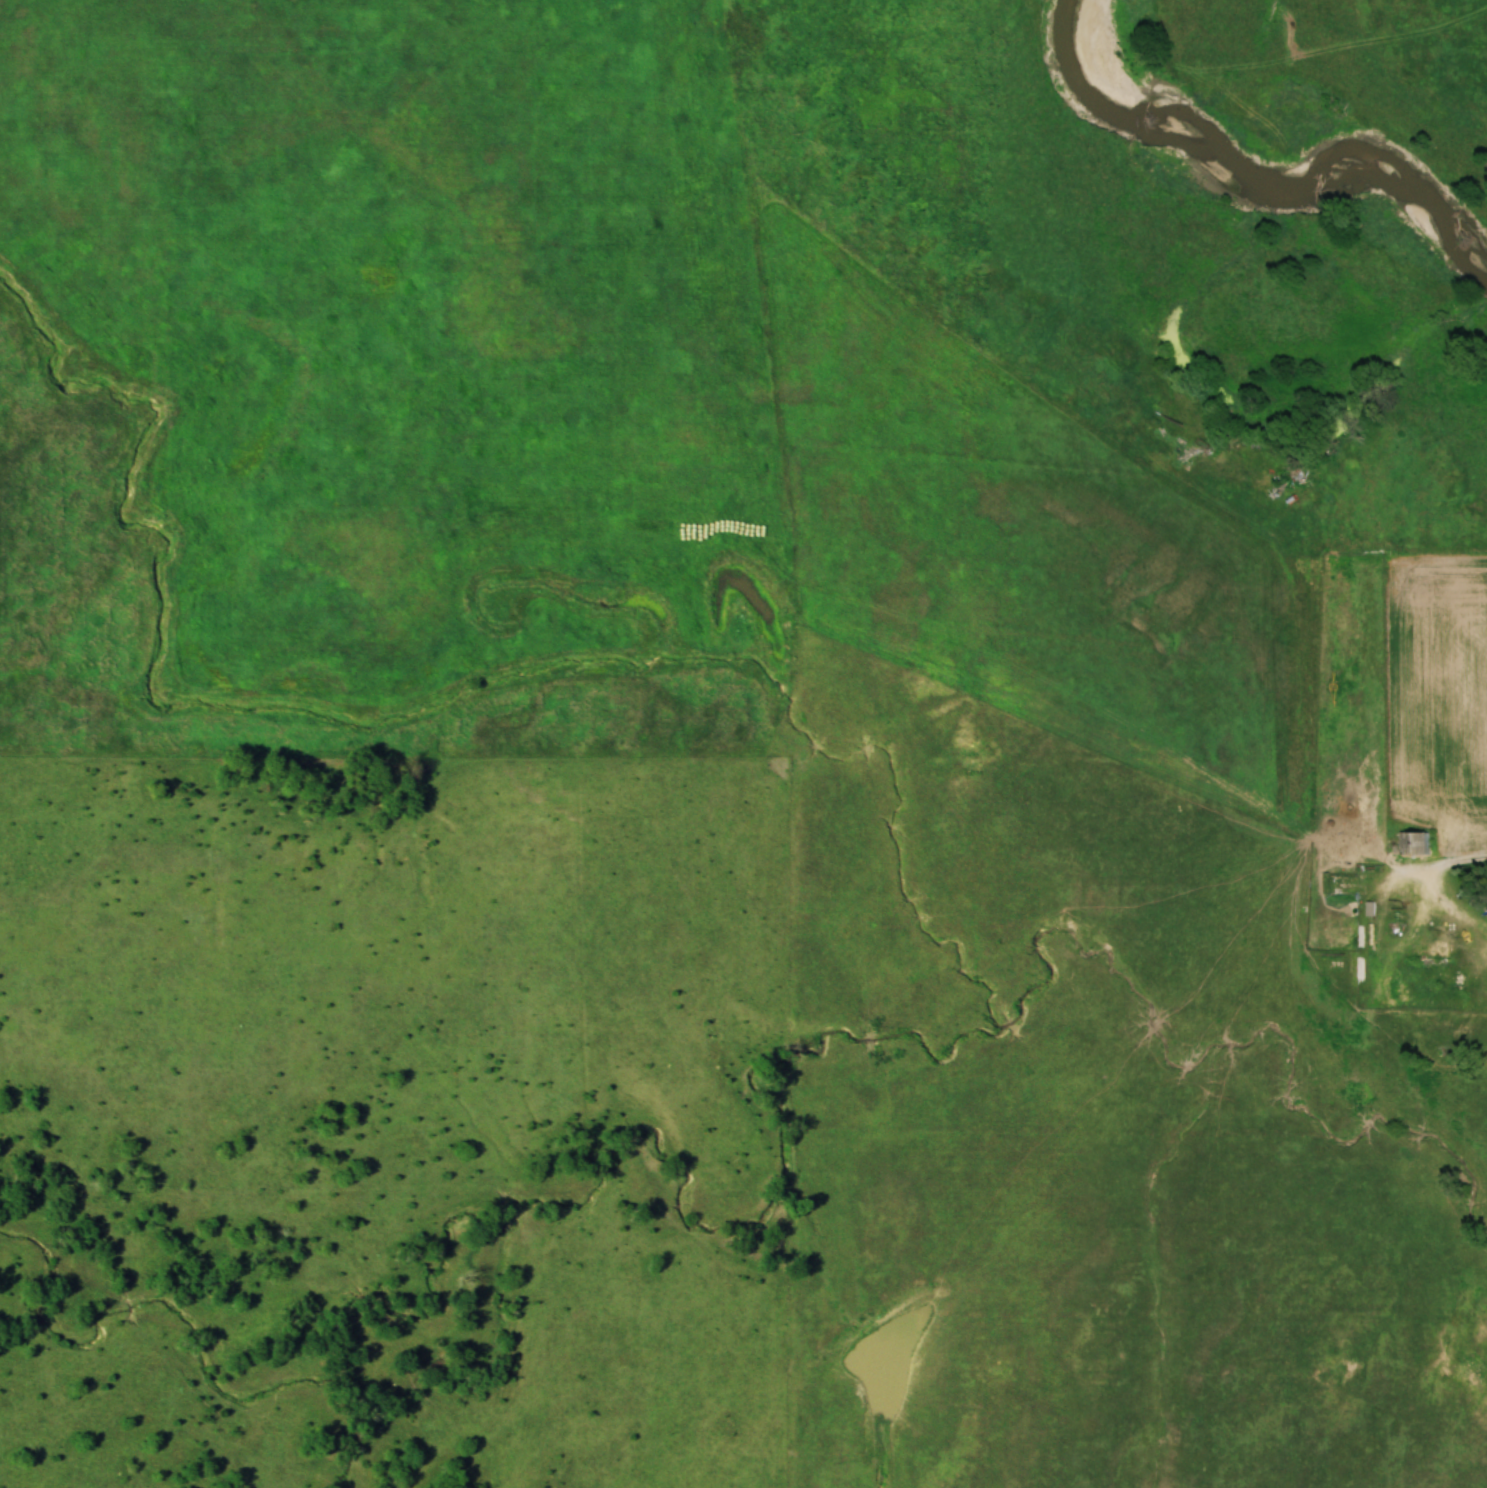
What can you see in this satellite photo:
building: (1414, 843)
road: (1451, 856)

